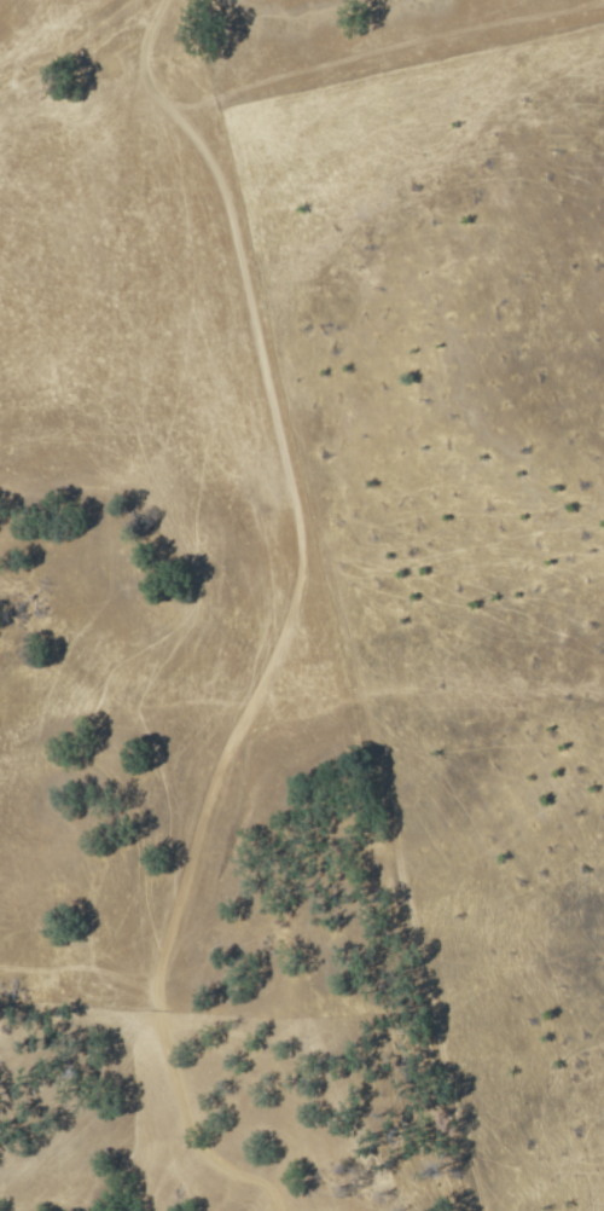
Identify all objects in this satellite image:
road: (290, 620)

